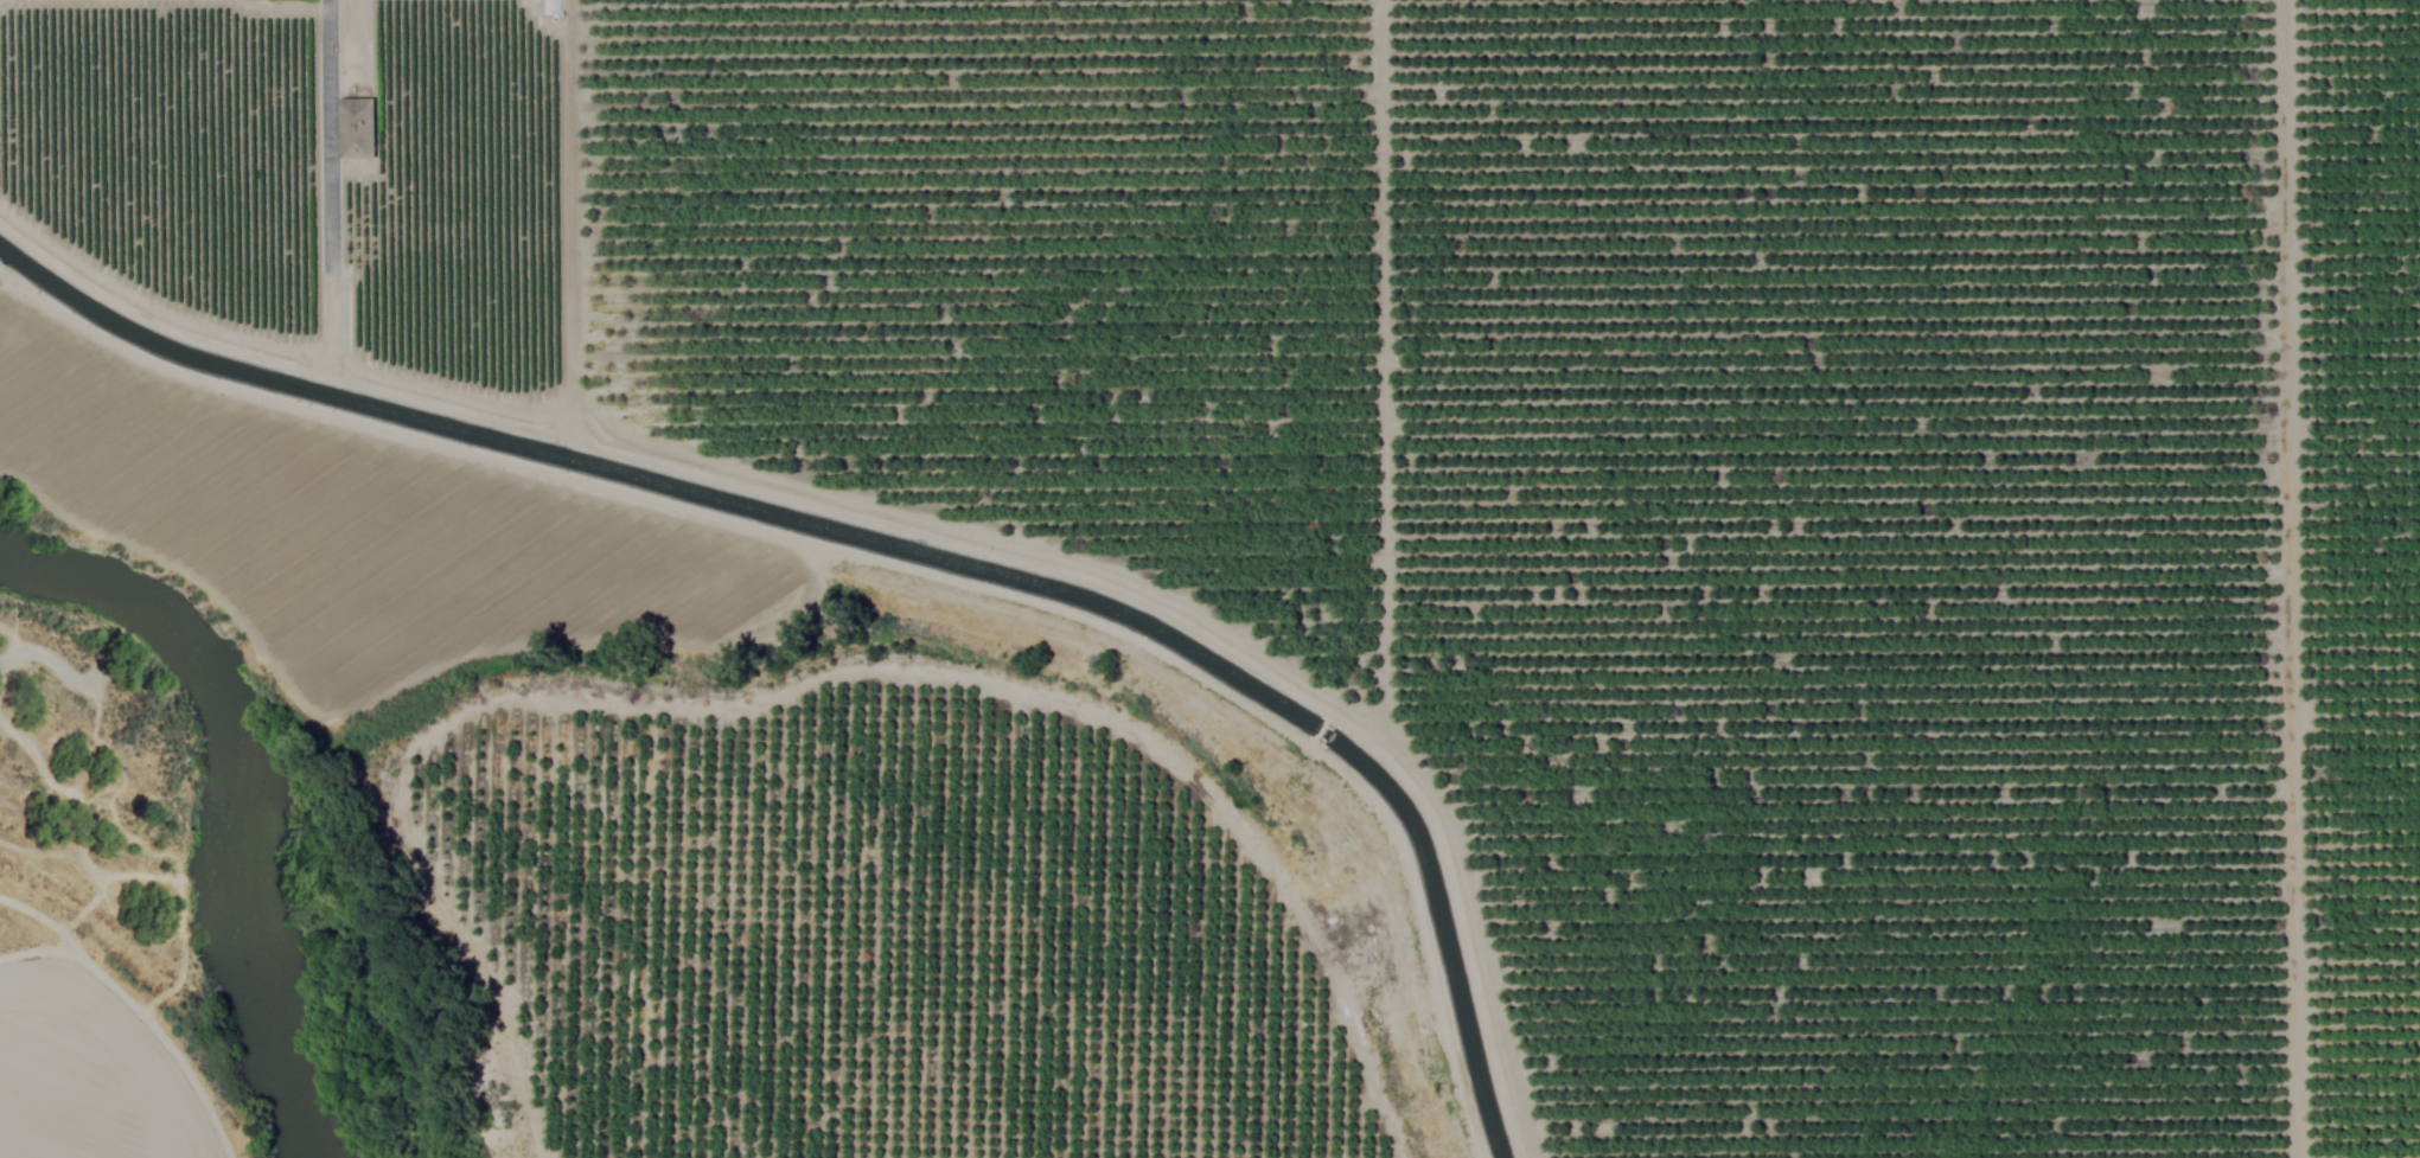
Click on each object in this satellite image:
road: (326, 126)
building: (358, 127)
crop: (1302, 546)
river: (219, 811)

